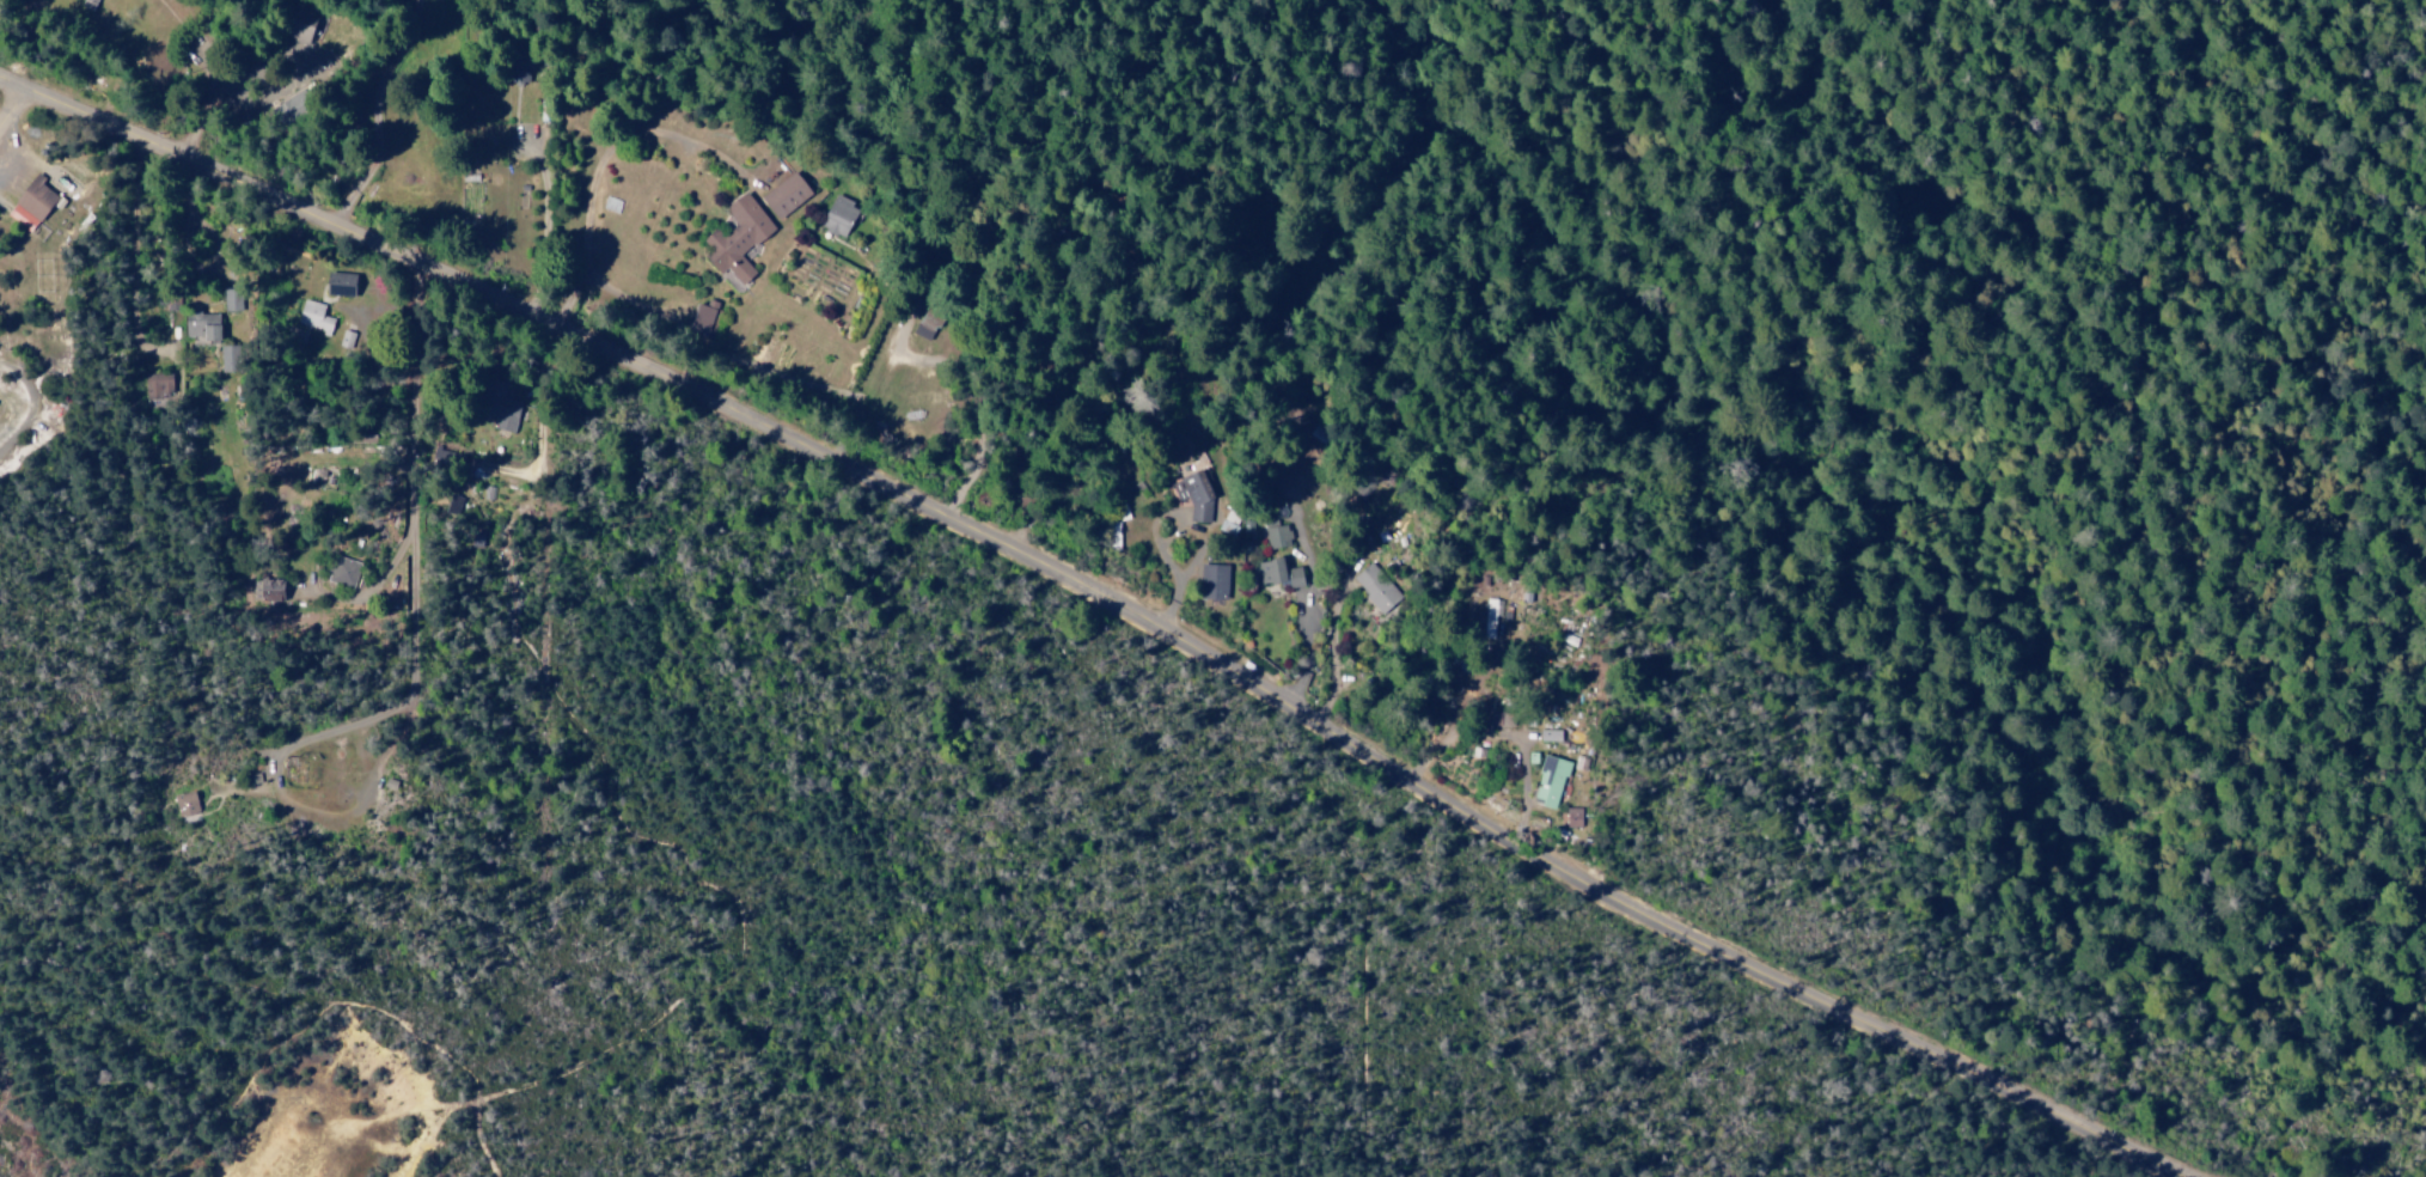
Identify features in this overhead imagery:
building: (90, 4)
road: (12, 103)
building: (297, 105)
road: (438, 123)
building: (789, 194)
building: (33, 205)
building: (841, 217)
building: (740, 238)
building: (233, 299)
building: (316, 316)
building: (707, 317)
building: (927, 324)
building: (206, 325)
building: (231, 358)
building: (159, 386)
building: (511, 415)
building: (1196, 494)
building: (1232, 522)
building: (1278, 535)
building: (346, 571)
building: (1281, 573)
building: (1216, 581)
building: (1377, 588)
road: (1105, 604)
building: (1552, 734)
building: (1552, 781)
building: (188, 804)
building: (1575, 817)

